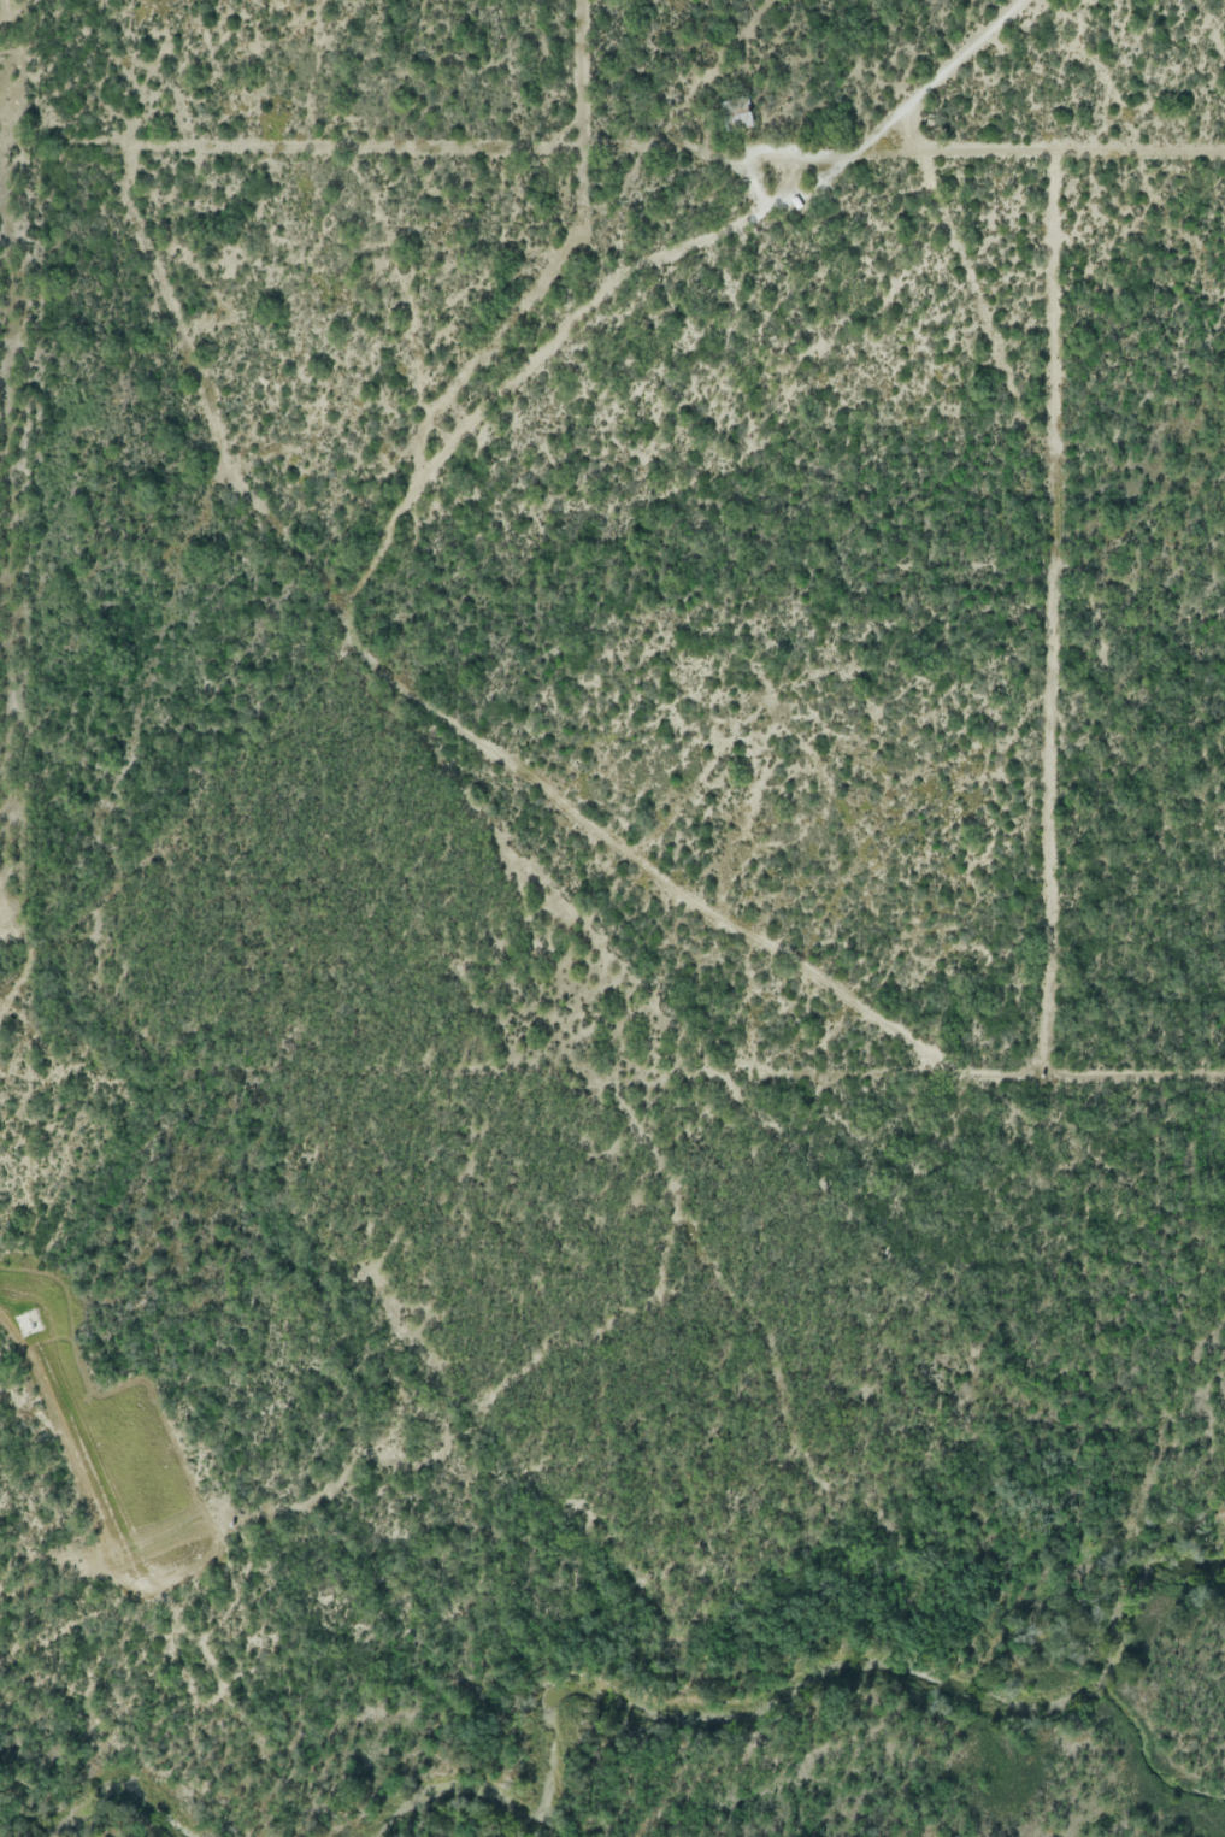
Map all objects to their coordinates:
road: (122, 1502)
river: (783, 1711)
river: (131, 1789)

